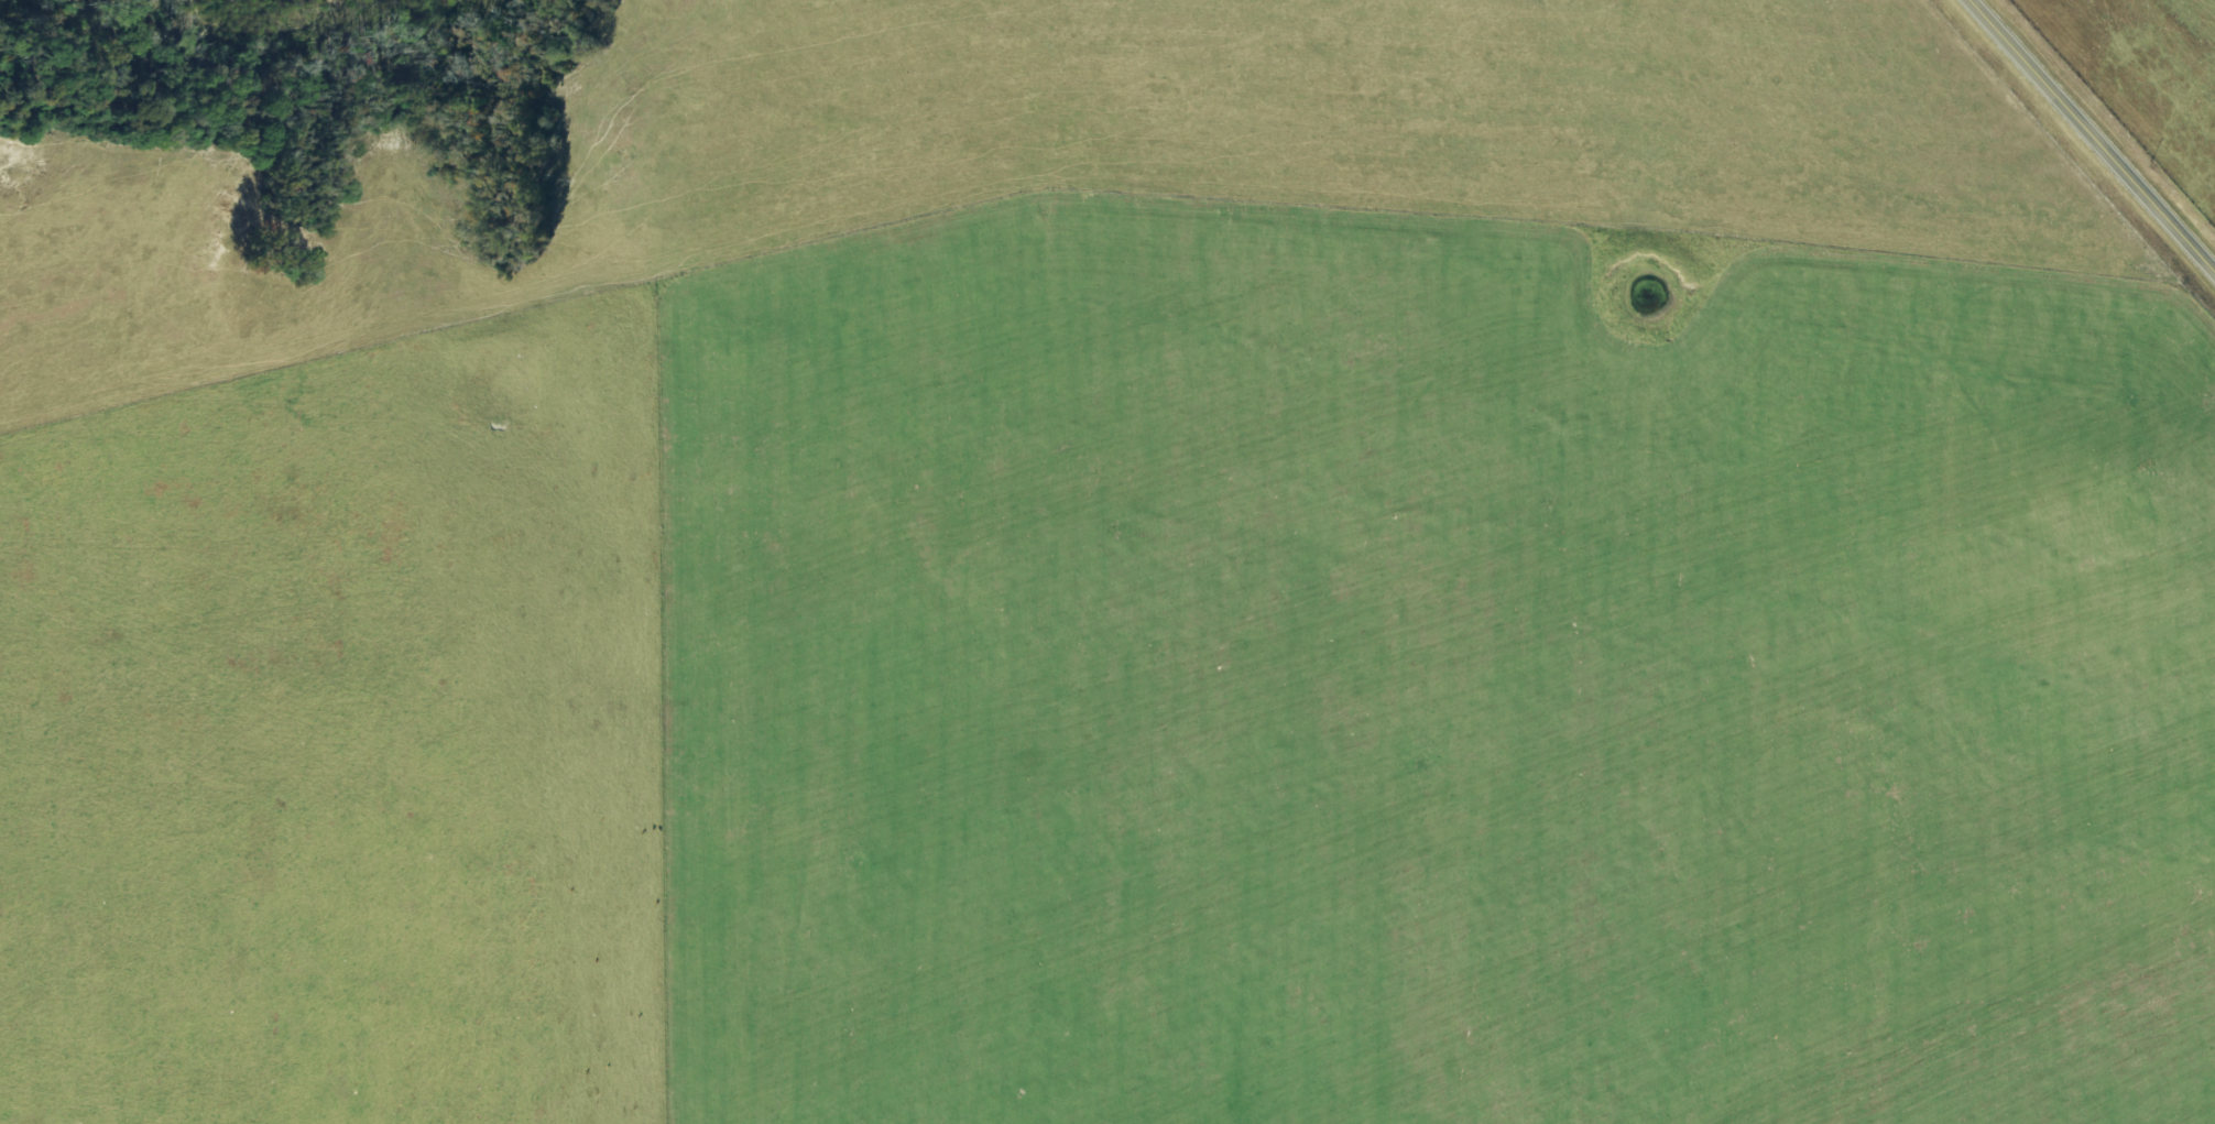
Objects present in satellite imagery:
road: (2092, 135)

